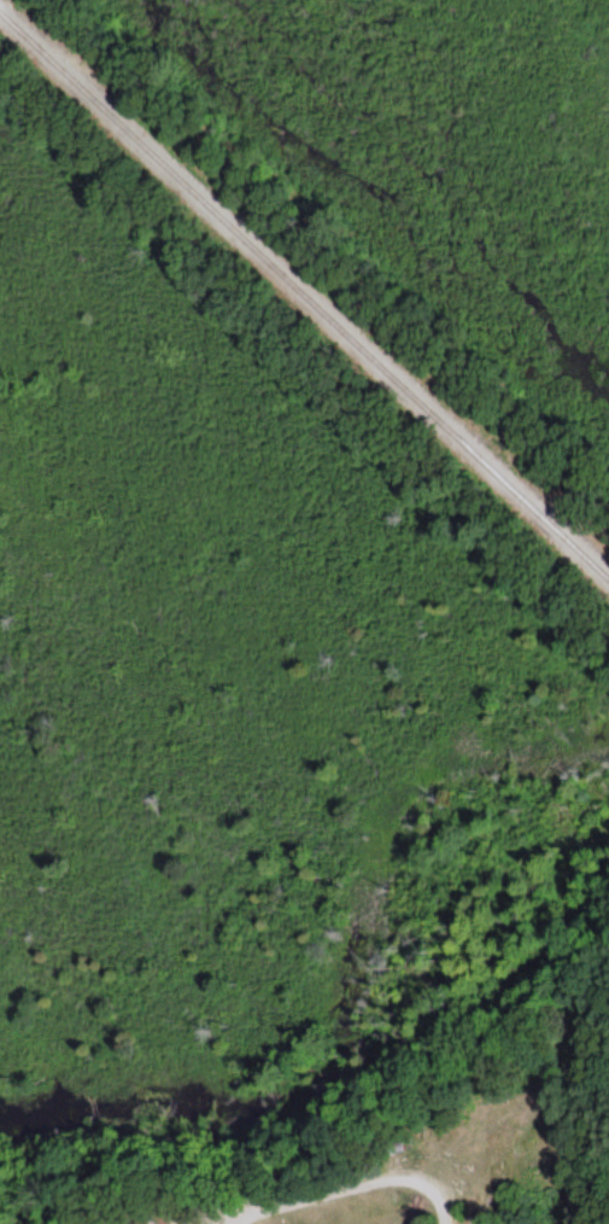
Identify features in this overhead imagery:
railway: (304, 293)
road: (335, 1189)
building: (147, 1218)

